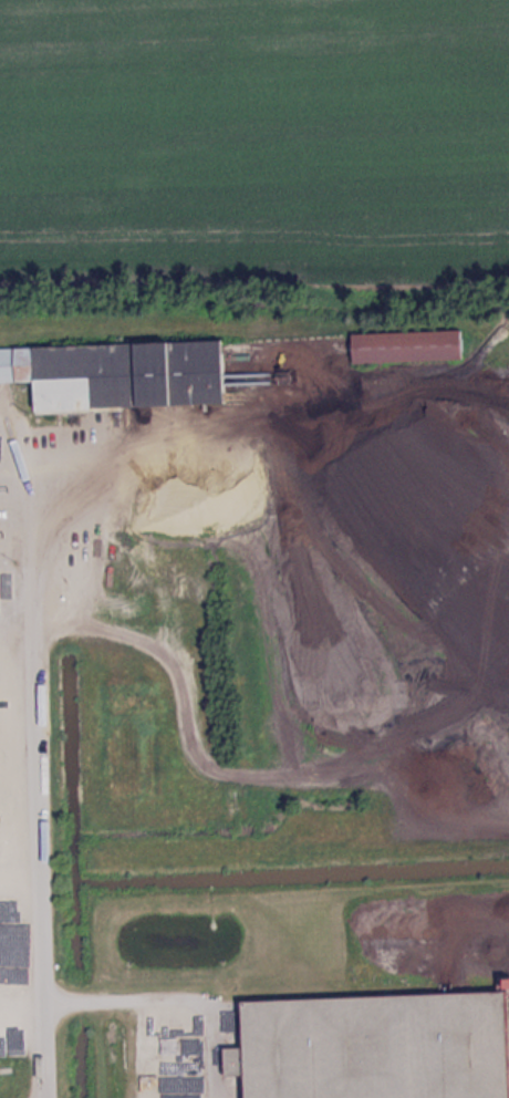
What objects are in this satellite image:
building: (399, 348)
building: (87, 377)
road: (30, 765)
road: (167, 995)
building: (363, 1046)

